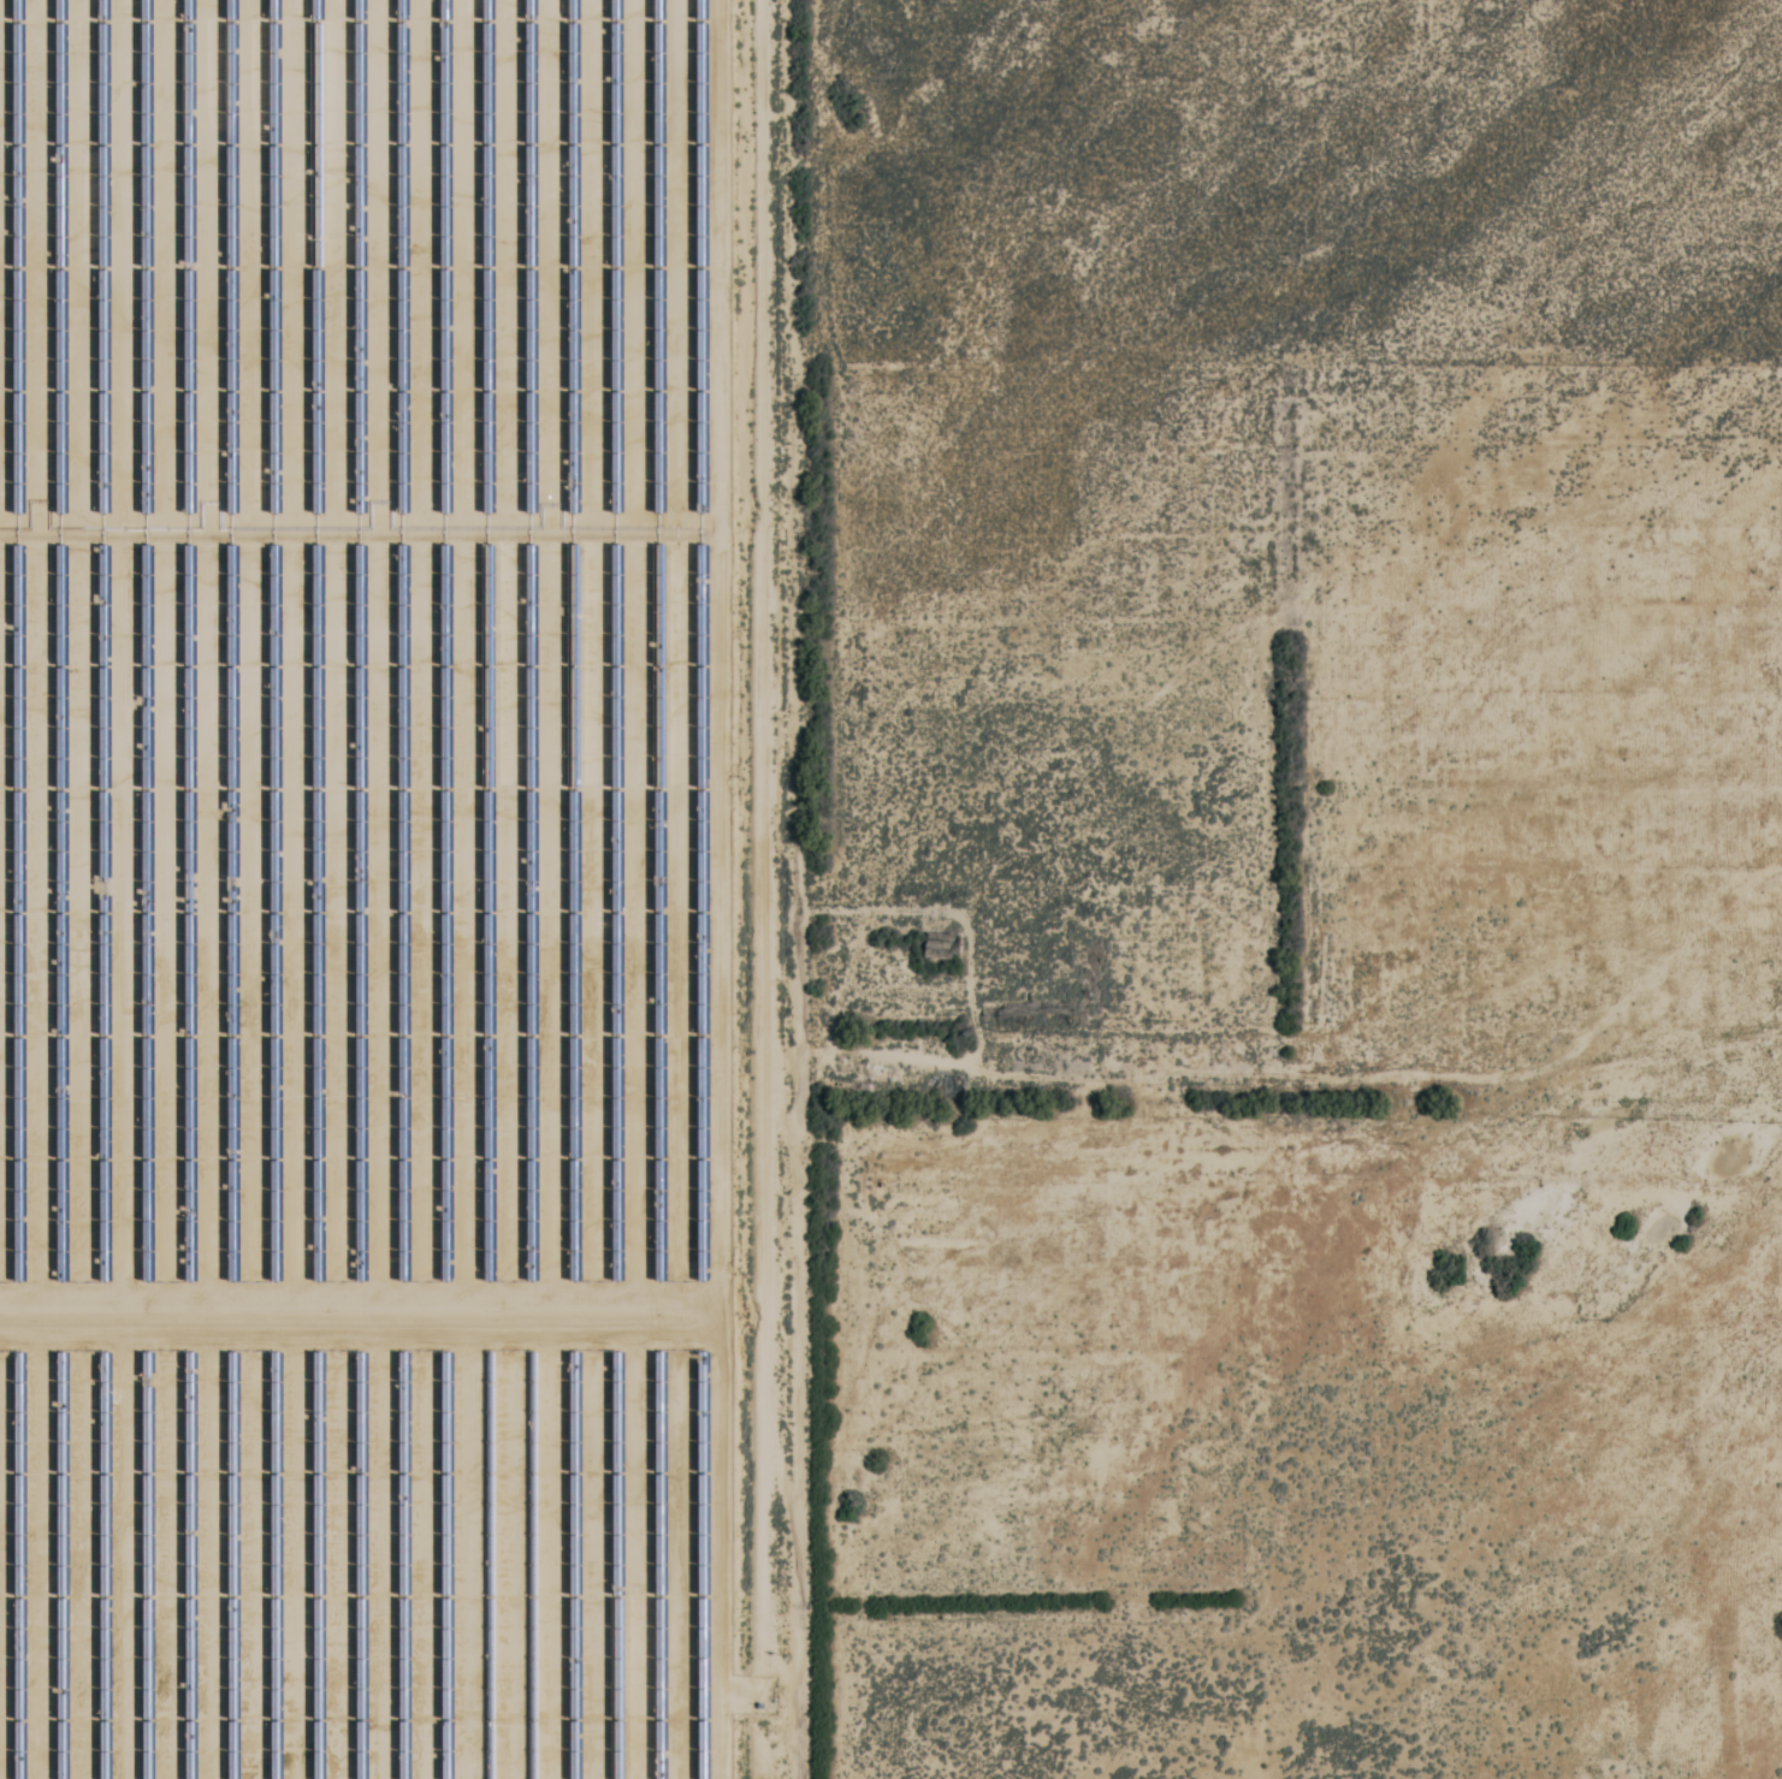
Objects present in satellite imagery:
building: (203, 67)
building: (6, 69)
building: (0, 203)
building: (379, 664)
building: (344, 791)
road: (805, 889)
solar farm: (363, 890)
building: (0, 956)
road: (359, 1320)
building: (0, 1575)
building: (359, 1750)

